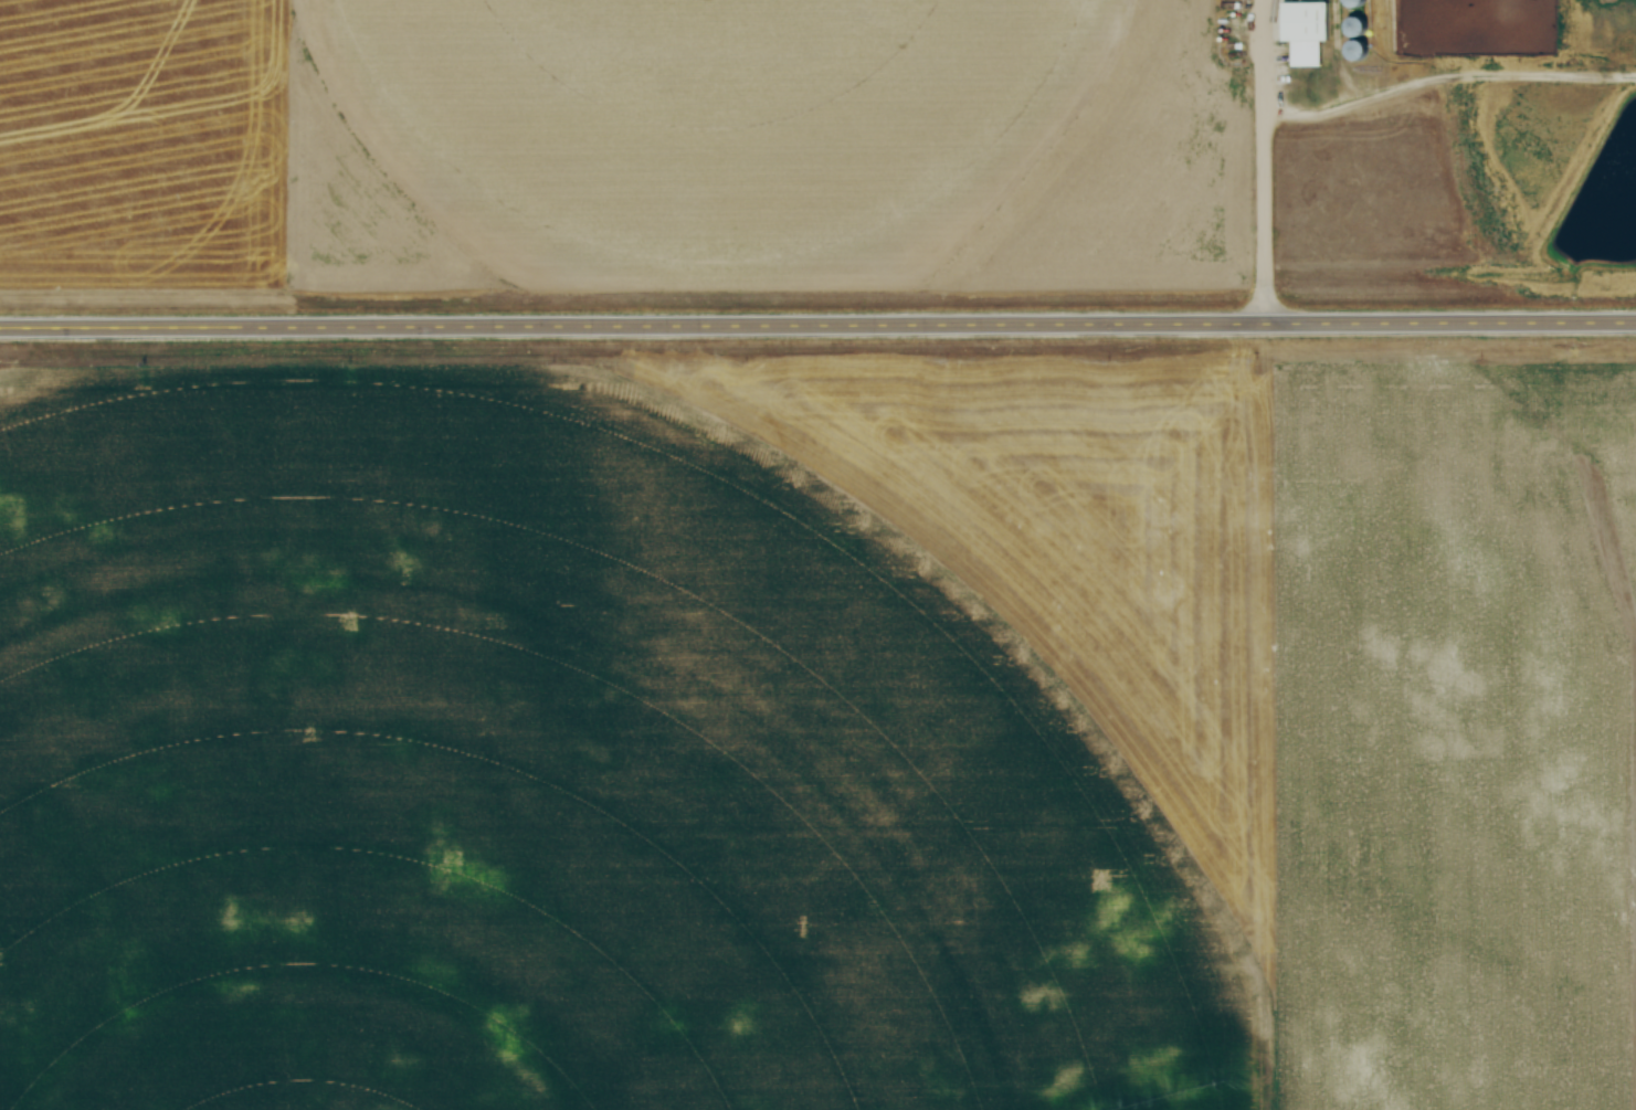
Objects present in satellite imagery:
building: (1358, 3)
silo: (1358, 3)
building: (1359, 28)
silo: (1359, 28)
building: (1308, 32)
building: (1360, 50)
silo: (1360, 50)
road: (1266, 161)
road: (817, 324)
building: (1214, 329)

